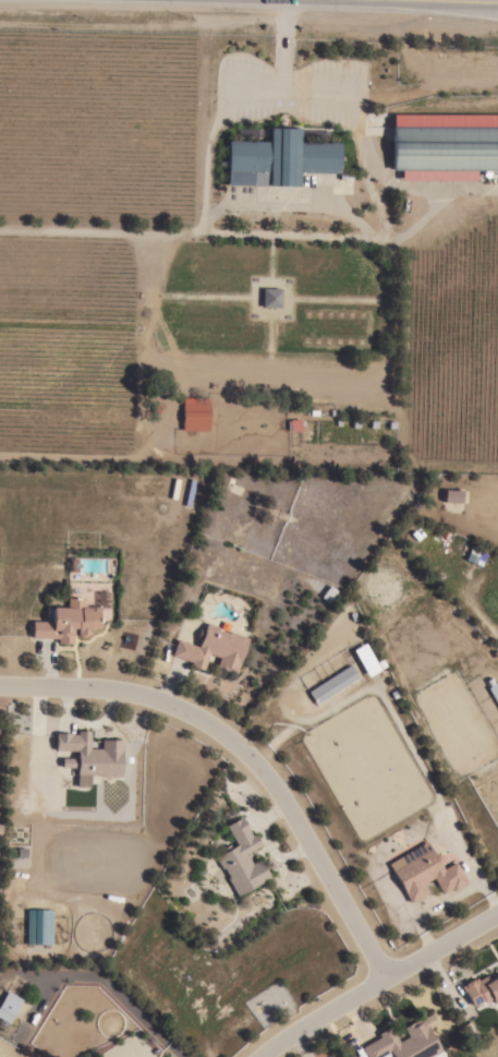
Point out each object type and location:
road: (280, 45)
building: (444, 145)
road: (205, 152)
building: (278, 158)
road: (471, 189)
road: (287, 207)
building: (270, 297)
building: (194, 416)
building: (293, 424)
building: (451, 495)
building: (473, 556)
building: (65, 622)
building: (211, 648)
building: (367, 660)
building: (332, 684)
building: (493, 689)
building: (90, 754)
road: (244, 754)
building: (240, 858)
building: (425, 874)
building: (38, 926)
road: (379, 981)
building: (479, 989)
building: (8, 1006)
building: (403, 1042)

